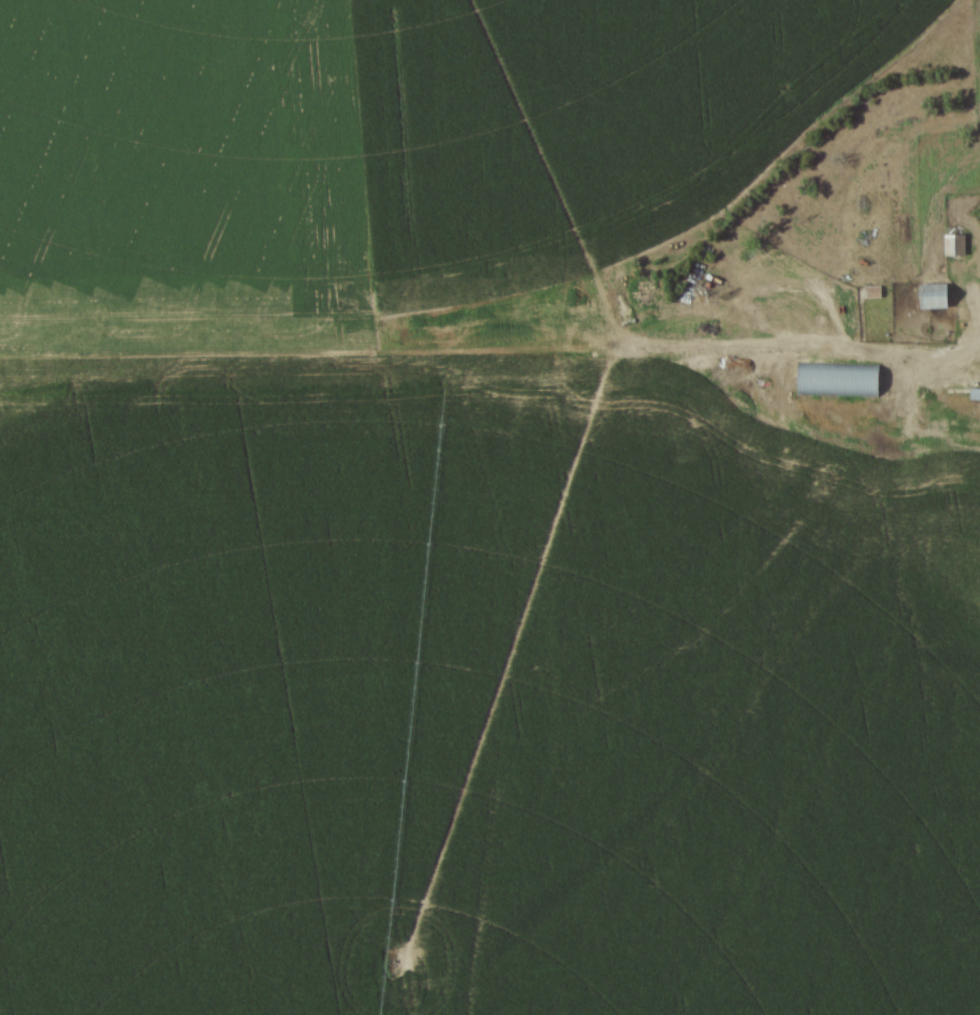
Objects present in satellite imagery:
building: (951, 246)
building: (869, 294)
building: (927, 298)
building: (833, 381)
building: (974, 395)

